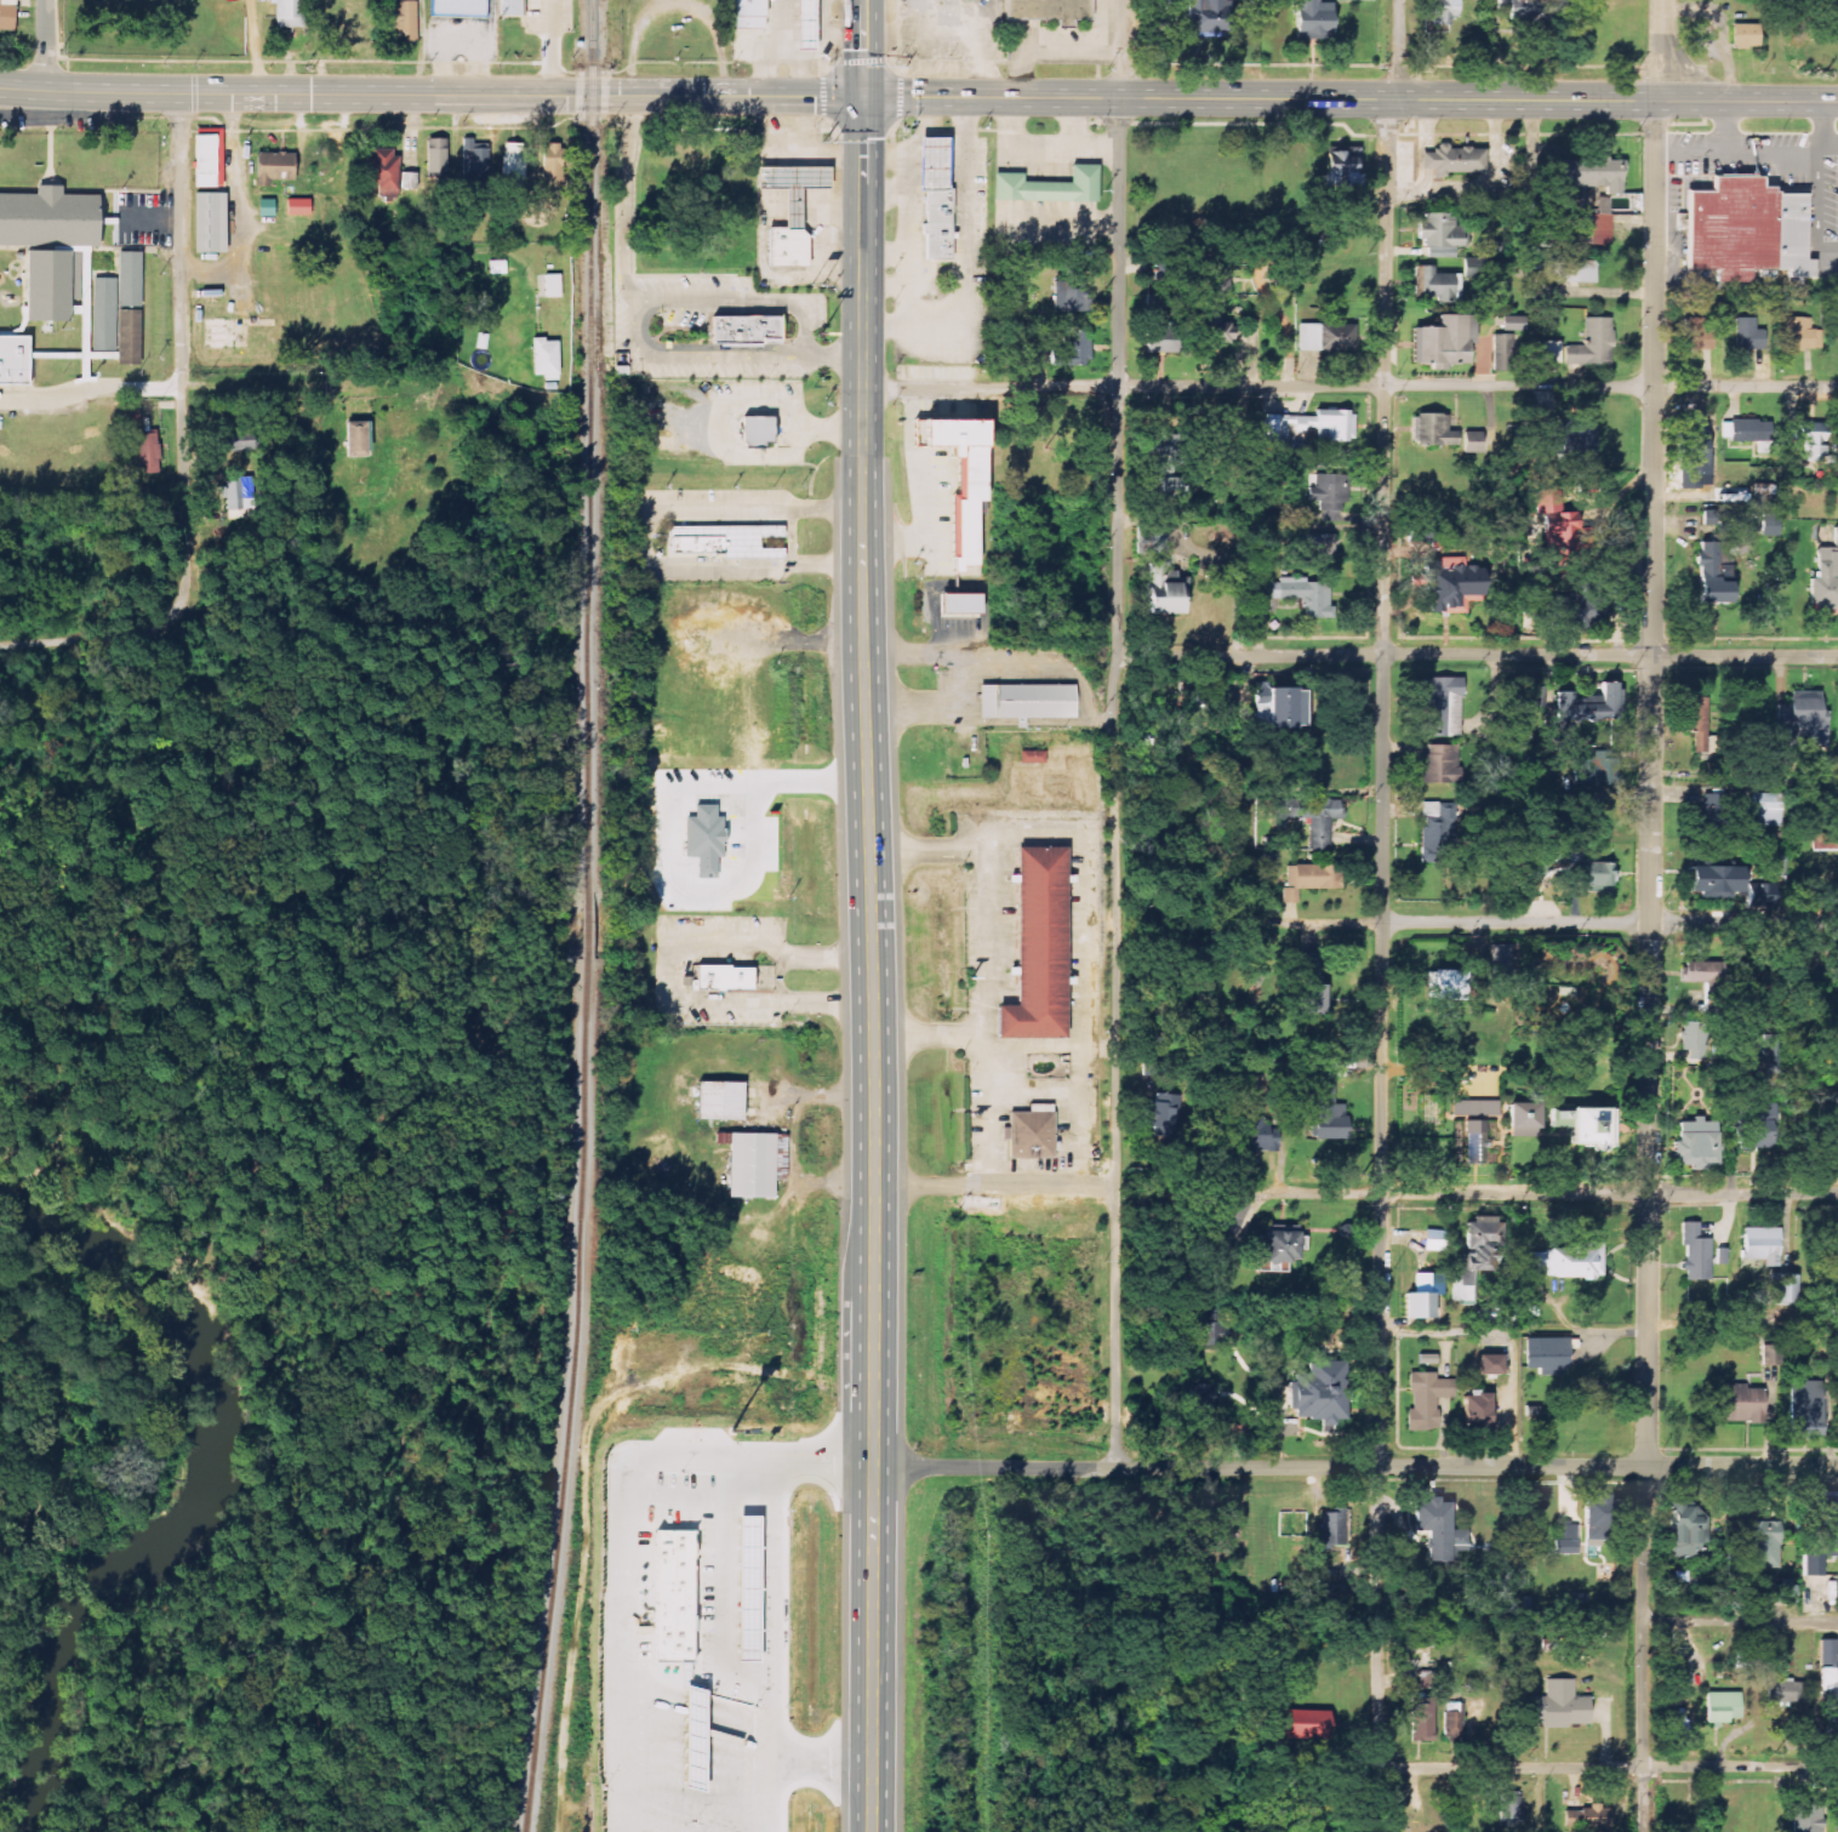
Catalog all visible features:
building: (967, 0)
building: (508, 6)
building: (457, 7)
building: (1529, 8)
building: (1044, 10)
building: (1444, 12)
building: (287, 13)
building: (7, 15)
building: (746, 16)
building: (1203, 17)
building: (1306, 17)
building: (404, 22)
building: (803, 27)
building: (1742, 35)
road: (46, 45)
road: (552, 47)
road: (866, 47)
road: (1121, 50)
road: (1403, 50)
road: (1667, 50)
road: (432, 95)
traffic signals: (866, 96)
road: (1233, 99)
road: (1720, 101)
road: (1728, 126)
road: (1823, 126)
road: (1426, 144)
road: (1831, 150)
road: (1737, 152)
building: (206, 158)
building: (436, 158)
building: (475, 161)
building: (553, 161)
parking lot: (1405, 161)
building: (1457, 162)
building: (513, 165)
building: (940, 165)
gas station: (940, 165)
building: (272, 166)
building: (1342, 166)
building: (383, 170)
parking lot: (1773, 172)
building: (1594, 173)
building: (410, 181)
building: (797, 186)
gas station: (797, 186)
building: (1045, 186)
road: (1485, 189)
road: (624, 199)
building: (1604, 206)
building: (267, 207)
building: (298, 207)
building: (48, 217)
road: (1816, 217)
building: (1583, 218)
building: (206, 221)
building: (941, 226)
building: (1743, 229)
parking lot: (1676, 230)
building: (1440, 235)
building: (788, 246)
building: (498, 268)
building: (1575, 272)
building: (47, 282)
building: (1437, 285)
building: (553, 286)
building: (1069, 293)
building: (113, 298)
building: (1214, 304)
building: (1513, 324)
building: (752, 331)
building: (126, 335)
building: (1697, 335)
building: (1749, 335)
building: (1802, 335)
building: (1308, 337)
building: (1337, 338)
building: (1444, 342)
building: (1593, 344)
building: (1160, 347)
building: (1067, 348)
building: (1552, 352)
building: (1505, 353)
road: (800, 356)
road: (837, 356)
building: (11, 358)
building: (546, 359)
road: (182, 371)
road: (273, 384)
road: (90, 387)
road: (1352, 387)
building: (1335, 426)
building: (1283, 427)
building: (763, 430)
building: (1749, 430)
building: (1433, 432)
building: (1572, 433)
building: (355, 439)
building: (1472, 440)
building: (1814, 441)
building: (1152, 445)
building: (149, 453)
building: (960, 479)
building: (1166, 486)
building: (239, 495)
building: (1330, 496)
building: (1731, 521)
building: (1771, 525)
building: (1559, 530)
building: (1433, 536)
road: (793, 538)
road: (645, 541)
building: (1155, 541)
building: (702, 546)
building: (1328, 546)
building: (1714, 573)
building: (1826, 577)
building: (1452, 586)
building: (1163, 590)
building: (1300, 595)
building: (961, 604)
building: (1598, 616)
building: (1577, 620)
road: (92, 650)
road: (1477, 655)
building: (1206, 694)
building: (1032, 701)
building: (1591, 706)
building: (1444, 707)
building: (1280, 709)
building: (1805, 720)
building: (1700, 727)
building: (1033, 758)
building: (1438, 764)
building: (1598, 767)
road: (1117, 783)
building: (1765, 809)
building: (1713, 815)
building: (1317, 817)
building: (1435, 833)
road: (1088, 856)
road: (1383, 857)
building: (1598, 875)
building: (1309, 879)
building: (1716, 880)
building: (1762, 895)
railway: (593, 917)
road: (1475, 920)
building: (1034, 947)
building: (1501, 957)
road: (875, 963)
road: (984, 965)
road: (1651, 966)
road: (672, 970)
building: (1697, 971)
building: (730, 977)
building: (1450, 985)
building: (1313, 987)
road: (930, 1034)
building: (1693, 1037)
building: (1769, 1050)
road: (1033, 1091)
building: (717, 1101)
building: (1165, 1115)
building: (1519, 1115)
building: (1836, 1117)
building: (1330, 1122)
building: (1579, 1126)
building: (1754, 1126)
building: (1472, 1130)
building: (1029, 1134)
building: (1261, 1136)
building: (1697, 1145)
building: (749, 1165)
road: (1357, 1191)
building: (1282, 1245)
building: (1762, 1245)
building: (1211, 1248)
building: (1696, 1254)
building: (1477, 1256)
building: (1836, 1261)
building: (1568, 1262)
building: (1425, 1285)
building: (1782, 1289)
building: (1420, 1306)
building: (1495, 1313)
building: (1211, 1330)
building: (1551, 1354)
building: (1490, 1365)
building: (1320, 1392)
building: (1426, 1399)
building: (1742, 1404)
building: (1477, 1409)
building: (1805, 1409)
road: (1357, 1466)
river: (213, 1494)
building: (1596, 1523)
building: (1830, 1524)
building: (1685, 1528)
building: (1335, 1529)
building: (1437, 1530)
building: (1566, 1539)
building: (1765, 1545)
building: (1813, 1565)
building: (746, 1588)
building: (1785, 1592)
building: (672, 1596)
road: (1608, 1619)
building: (1673, 1666)
building: (1830, 1687)
building: (1785, 1691)
building: (1560, 1706)
building: (1724, 1706)
building: (1423, 1722)
road: (1378, 1723)
building: (1302, 1724)
building: (1674, 1725)
road: (1608, 1767)
building: (1511, 1809)
building: (1587, 1816)
building: (1808, 1817)

